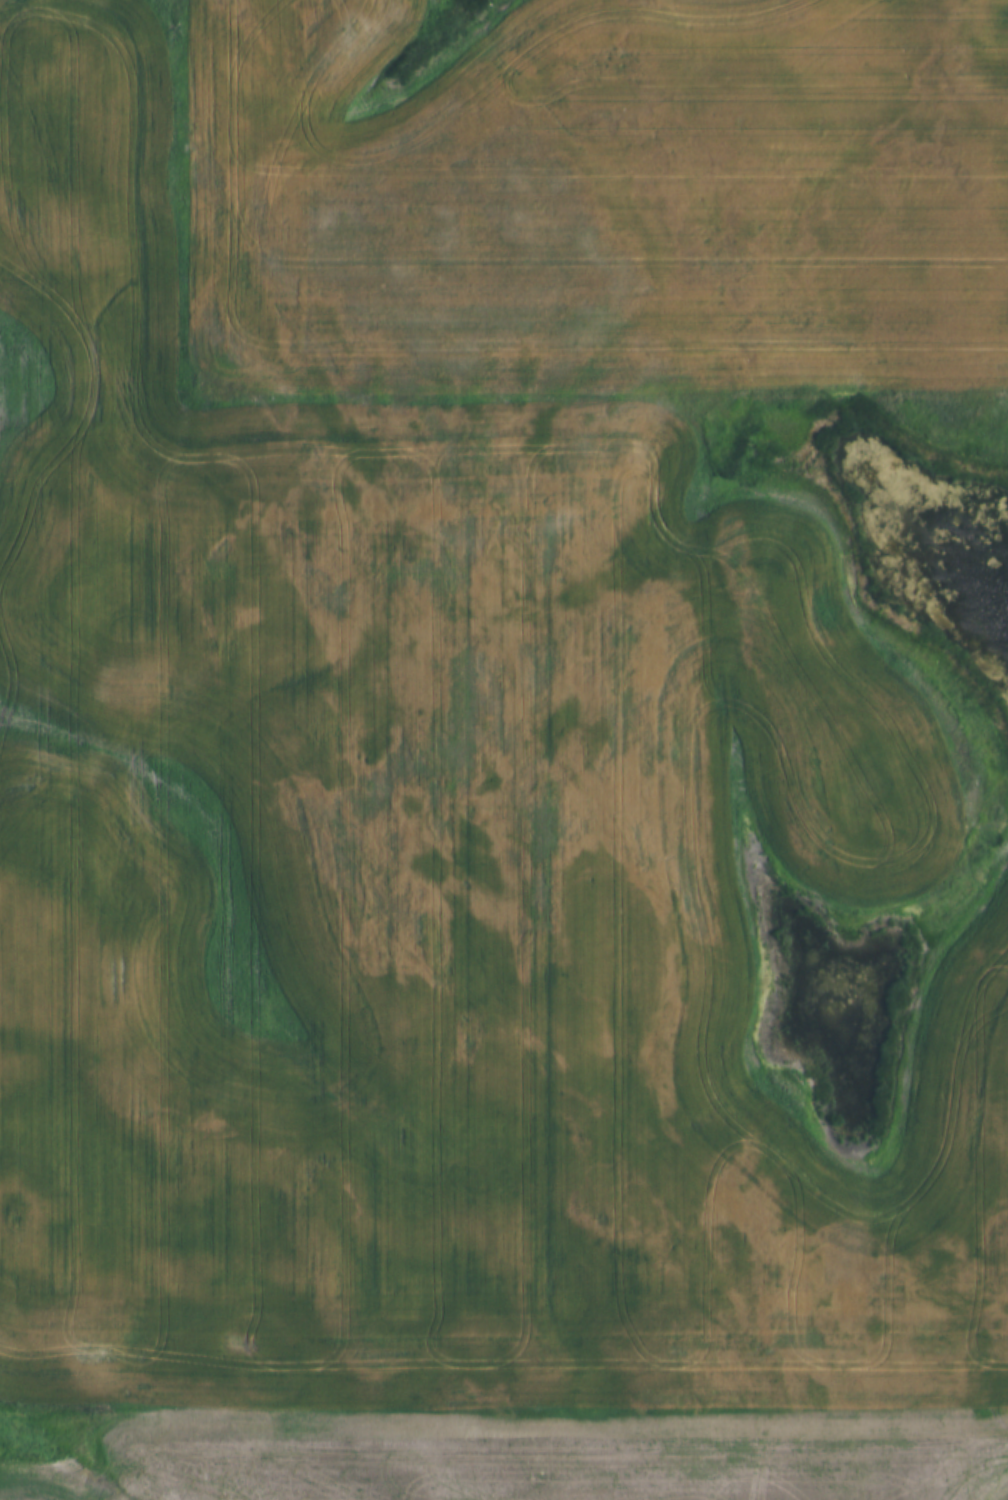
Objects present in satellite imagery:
road: (503, 1416)

